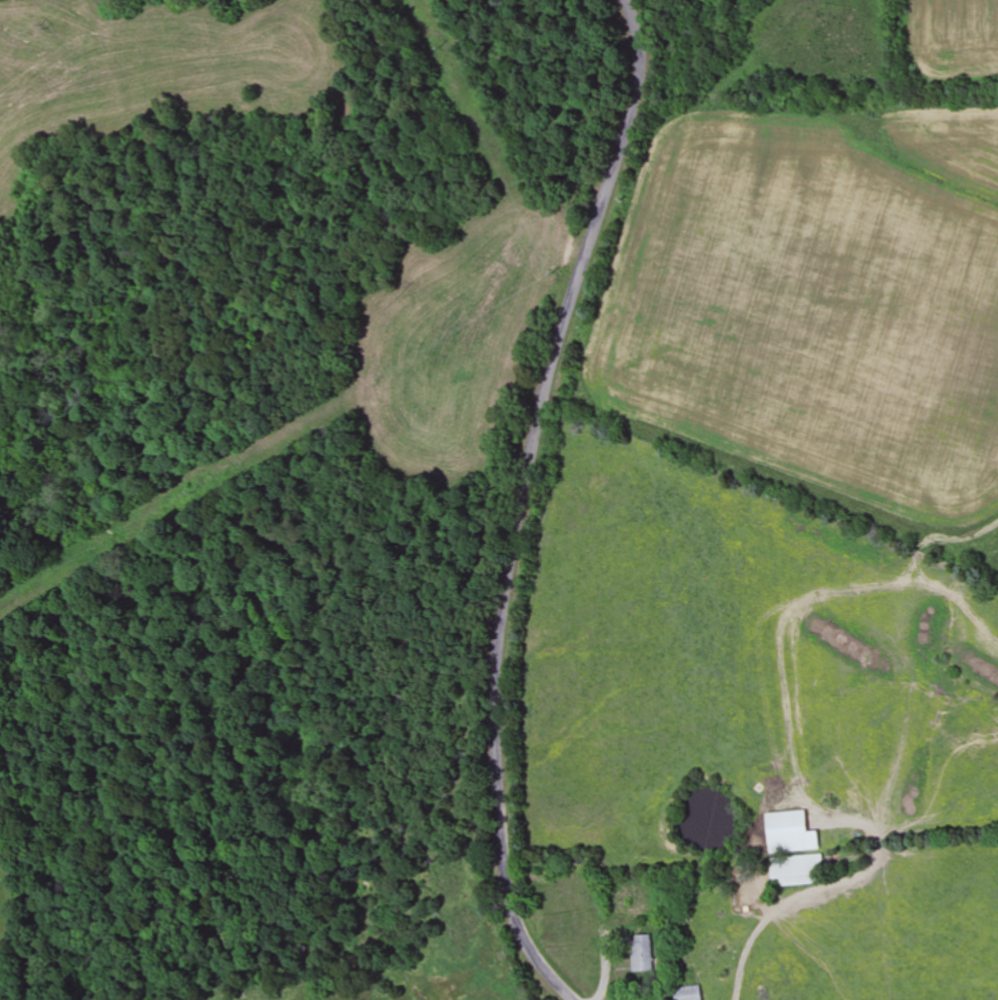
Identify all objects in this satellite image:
road: (806, 142)
road: (522, 504)
building: (790, 833)
building: (797, 871)
building: (642, 954)
building: (687, 993)

